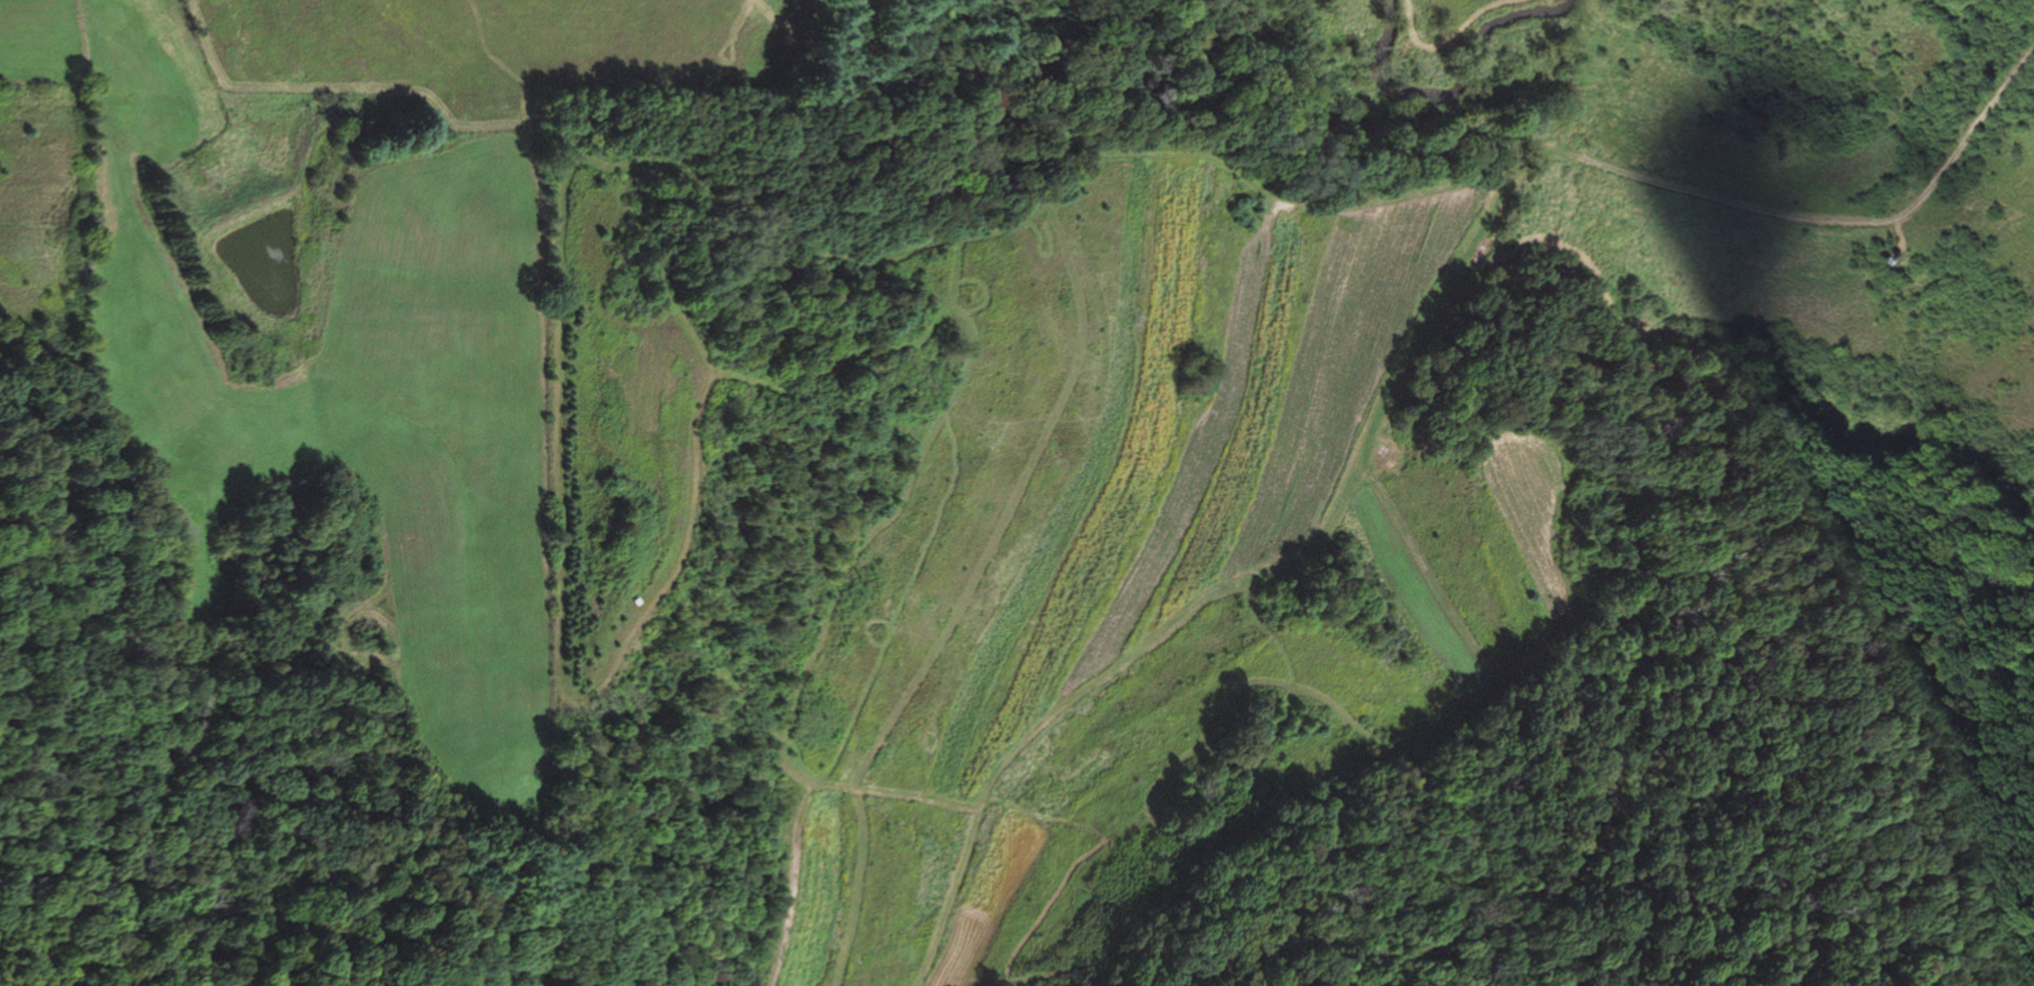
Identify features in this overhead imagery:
river: (1475, 74)

